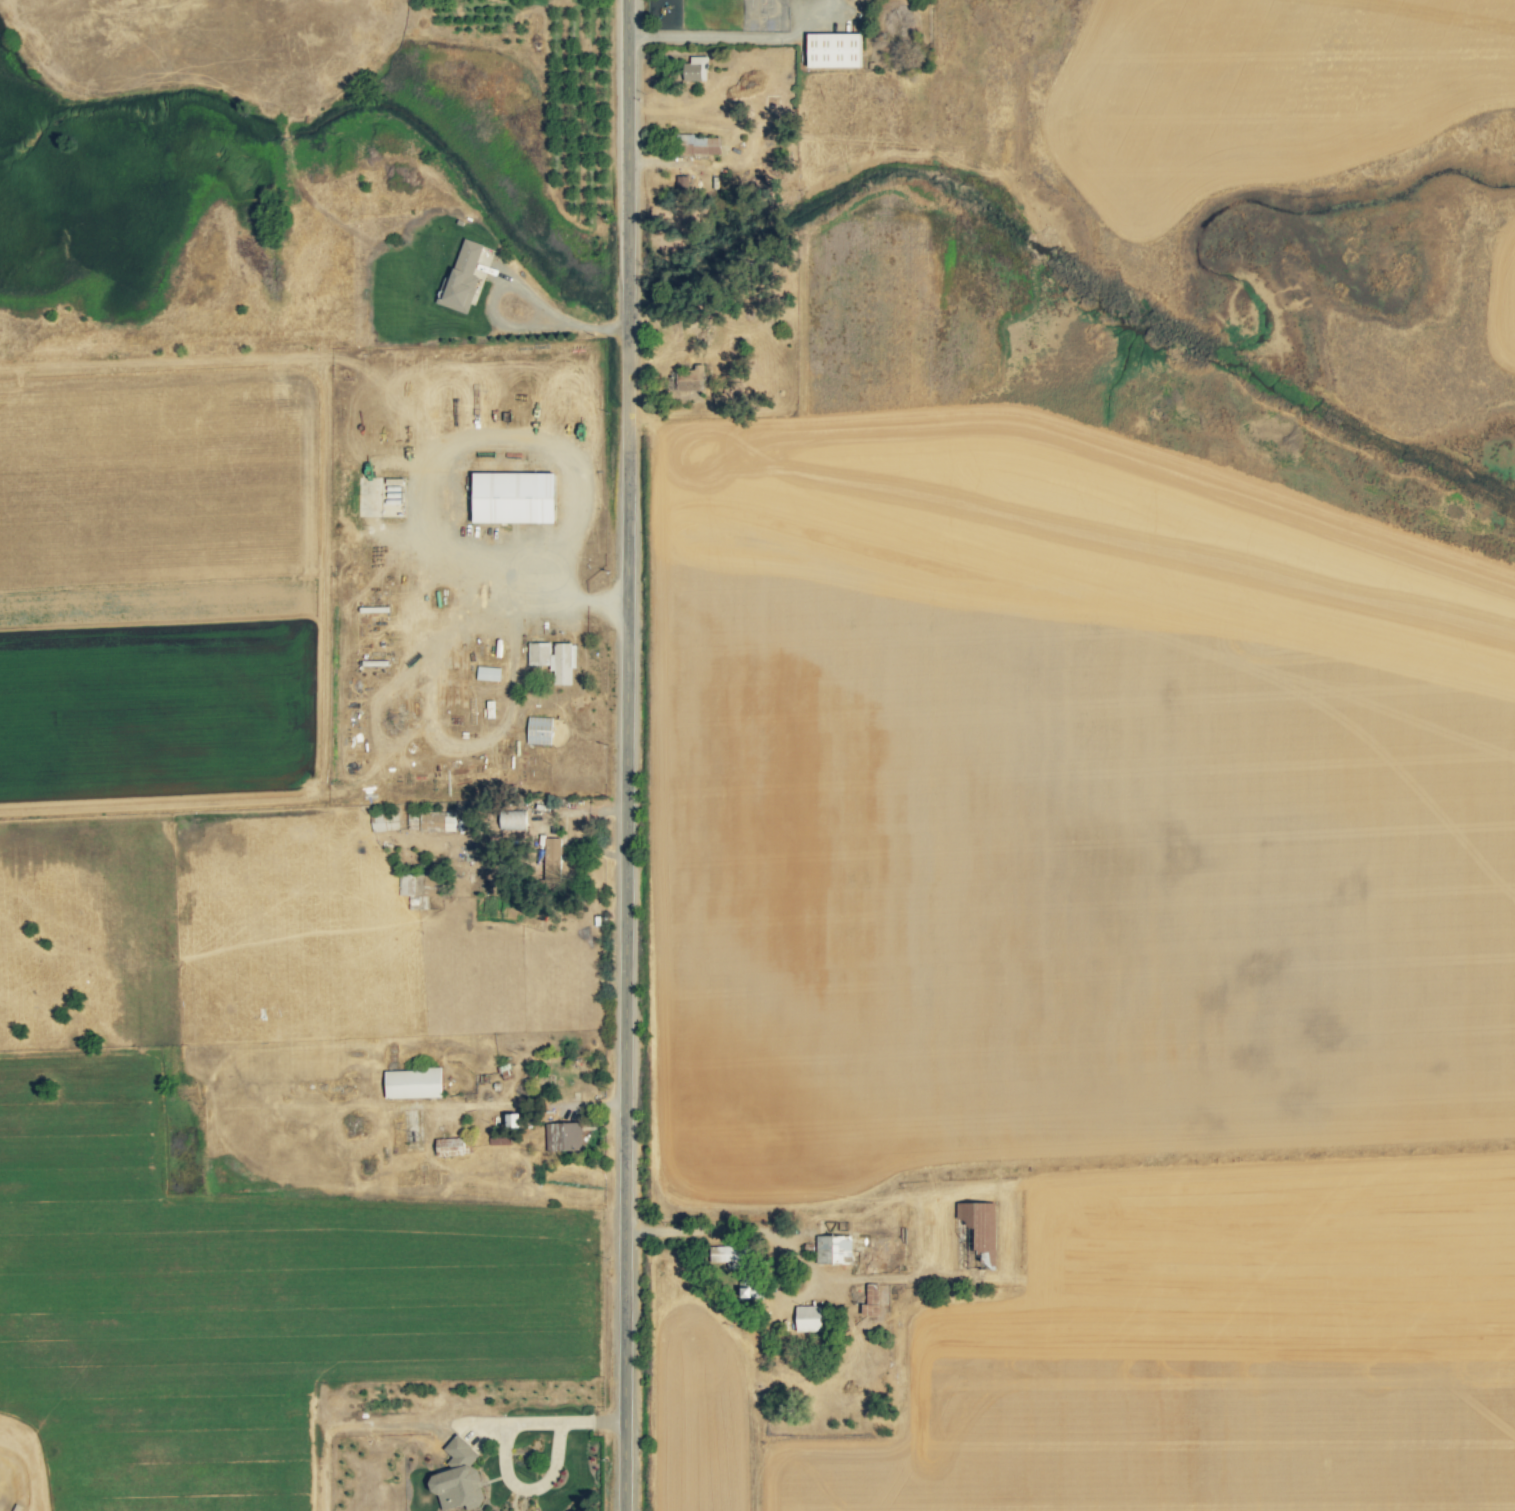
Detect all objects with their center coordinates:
road: (717, 37)
building: (833, 49)
building: (695, 69)
building: (698, 144)
building: (682, 183)
building: (461, 279)
road: (506, 282)
building: (691, 379)
road: (420, 454)
building: (513, 497)
building: (554, 659)
building: (487, 673)
building: (539, 730)
road: (618, 755)
road: (575, 812)
building: (512, 820)
building: (436, 821)
building: (384, 822)
building: (552, 859)
building: (415, 888)
building: (413, 1083)
building: (563, 1137)
building: (449, 1147)
building: (979, 1224)
road: (712, 1230)
building: (833, 1250)
building: (725, 1255)
building: (750, 1291)
building: (871, 1300)
building: (809, 1319)
road: (554, 1422)
building: (458, 1479)

